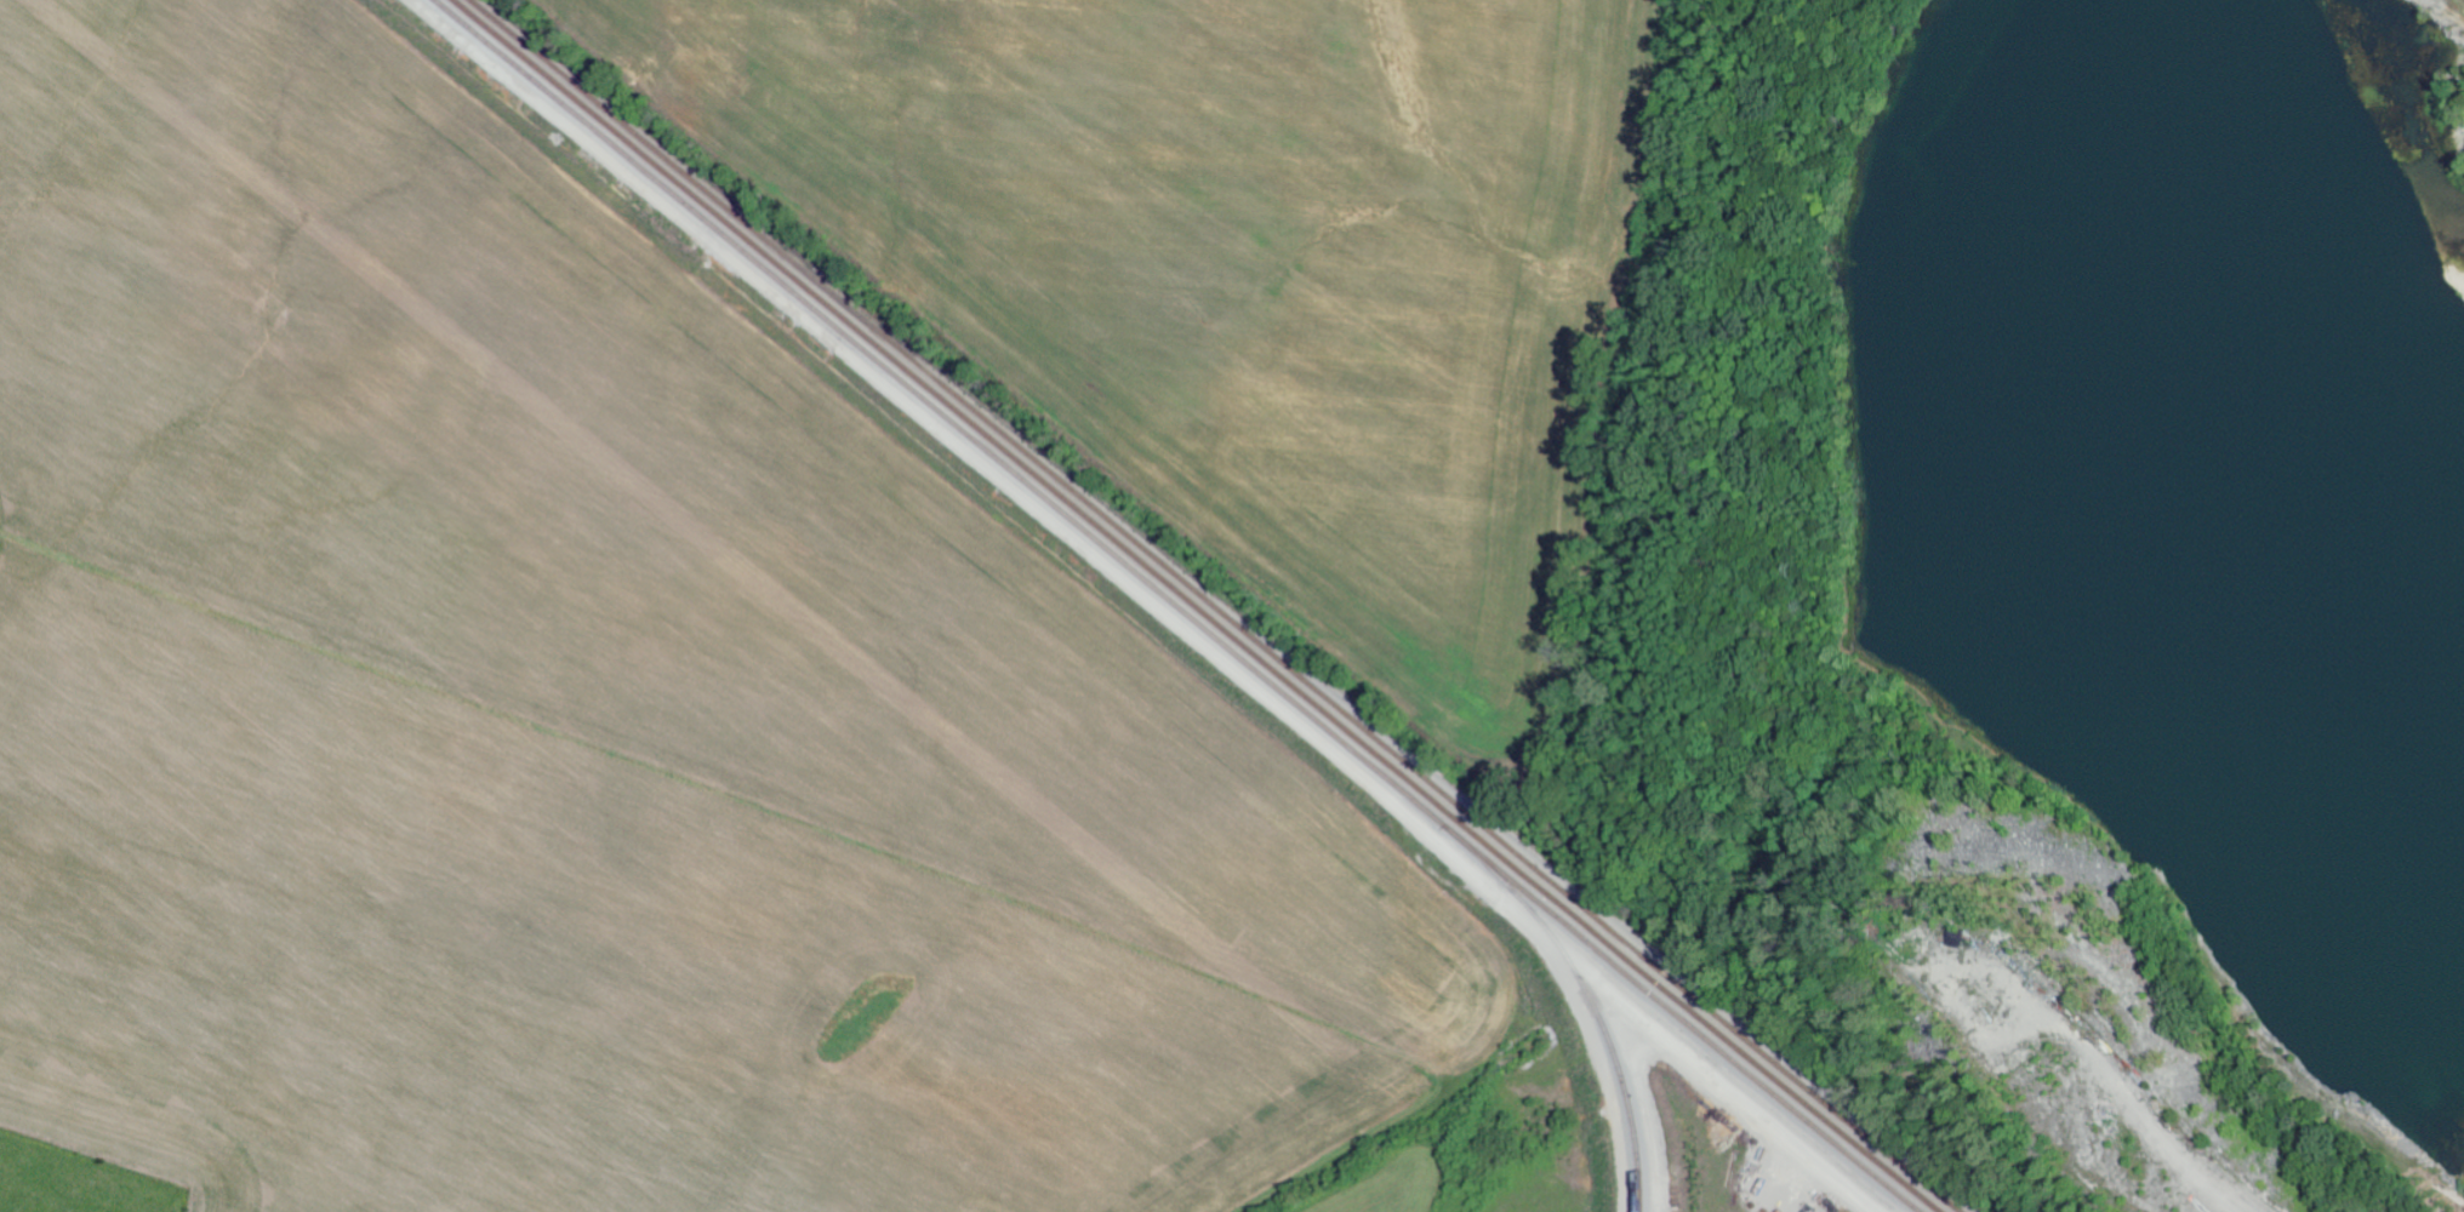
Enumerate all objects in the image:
railway: (1193, 606)
railway: (1211, 606)

